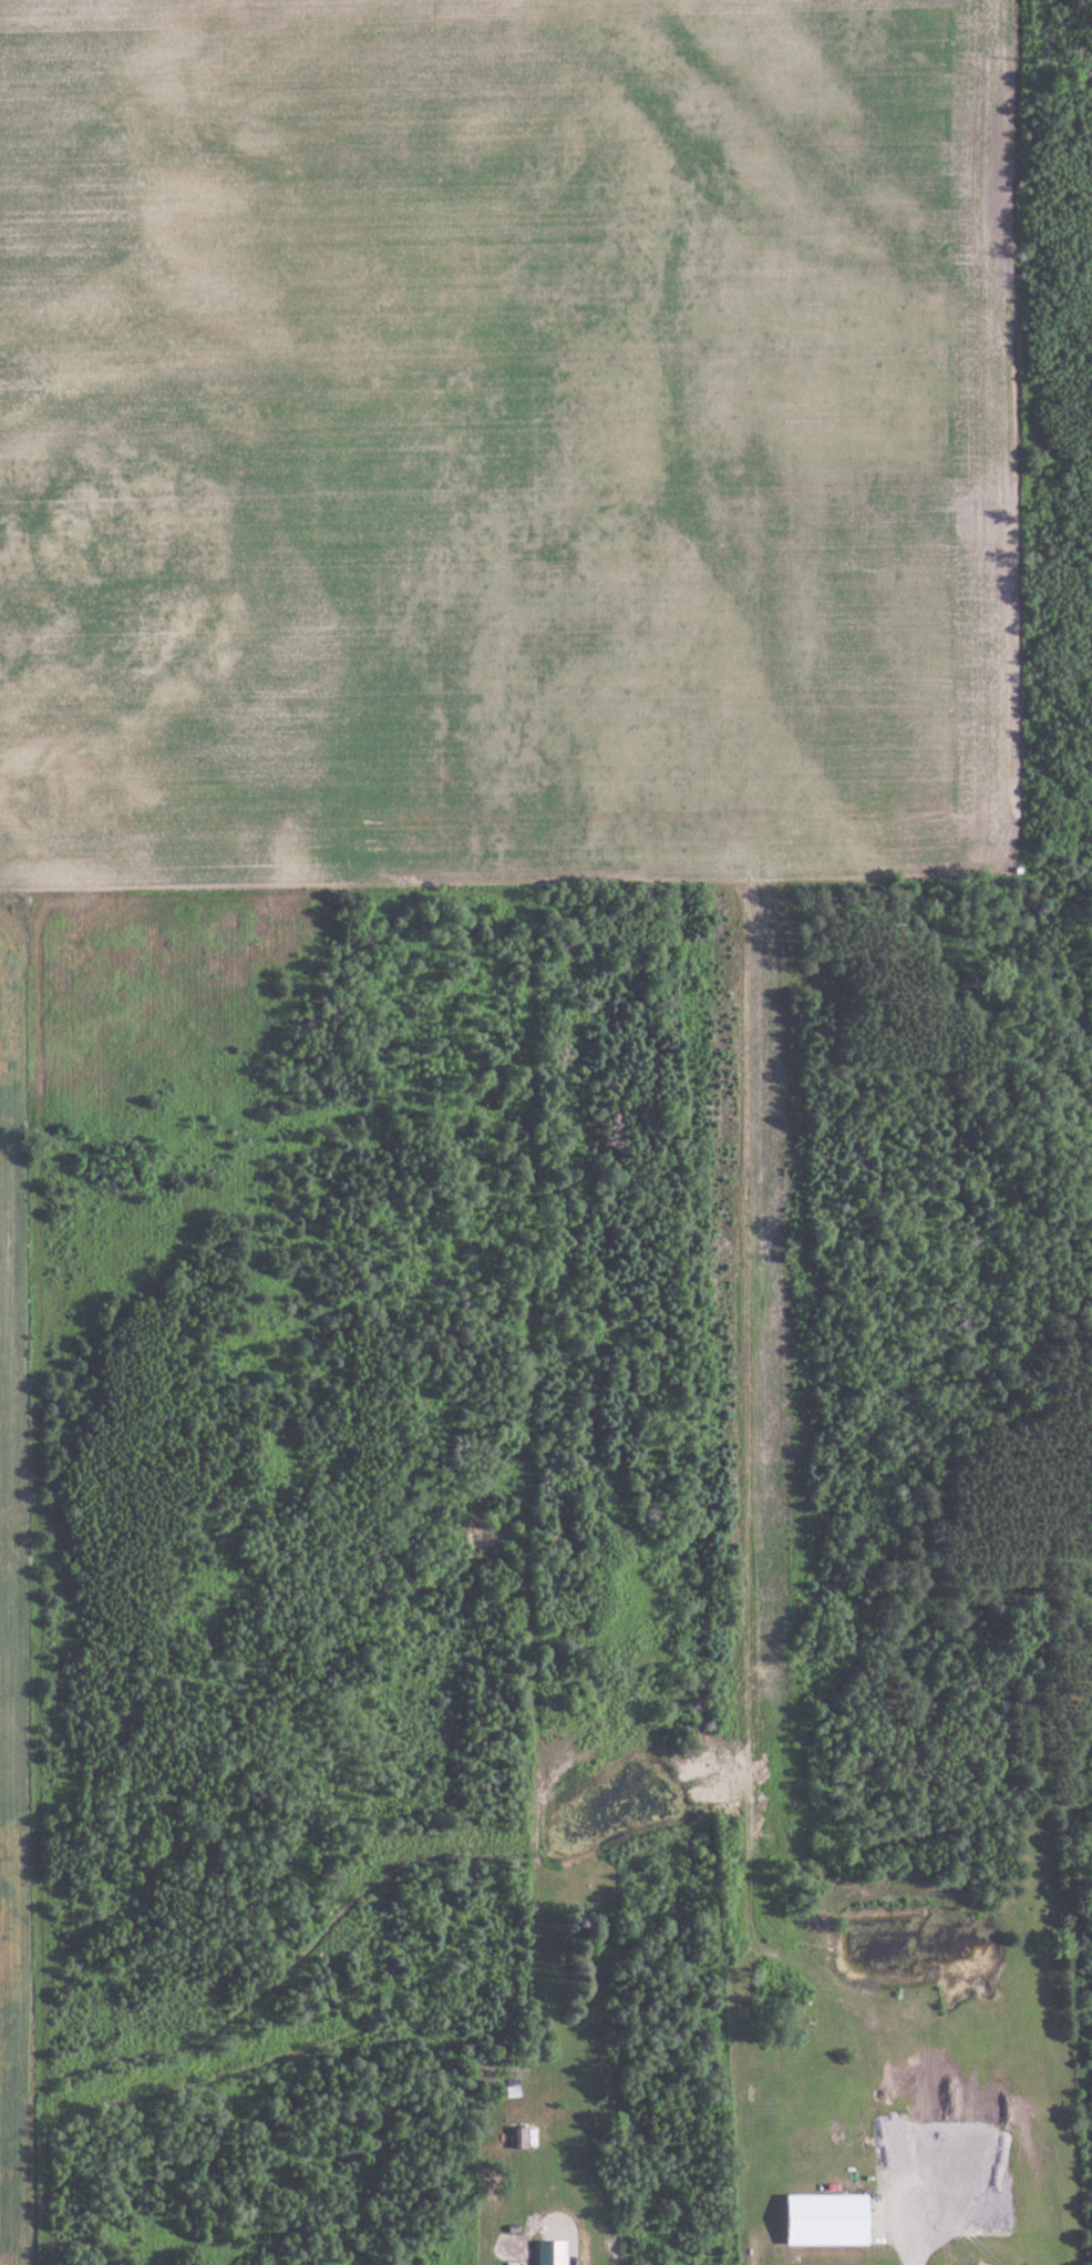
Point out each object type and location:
building: (515, 2091)
building: (522, 2138)
building: (825, 2220)

